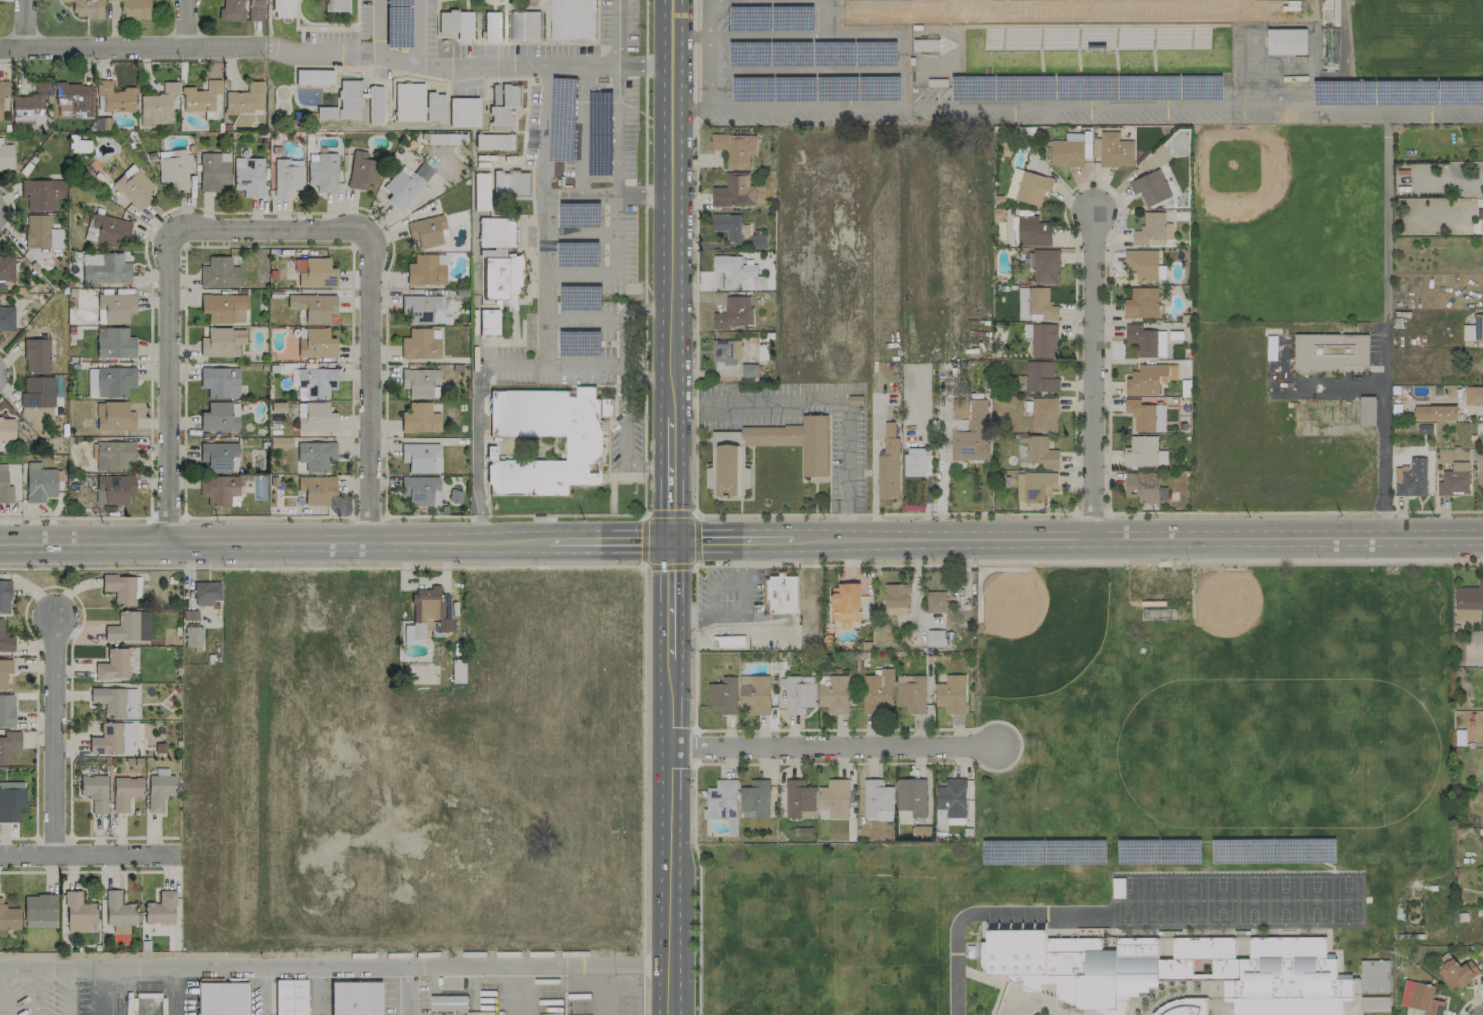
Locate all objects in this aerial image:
building: (334, 5)
building: (282, 7)
building: (86, 8)
building: (134, 8)
building: (231, 10)
building: (255, 10)
road: (296, 13)
building: (572, 19)
road: (325, 22)
parking lot: (397, 22)
road: (185, 23)
road: (354, 23)
parking lot: (616, 23)
road: (25, 24)
building: (524, 26)
building: (492, 27)
road: (321, 28)
building: (1090, 29)
road: (823, 33)
road: (300, 34)
road: (615, 34)
road: (766, 35)
parking lot: (327, 36)
road: (684, 36)
road: (702, 36)
road: (891, 40)
building: (1286, 42)
park: (1417, 43)
building: (931, 46)
road: (131, 47)
road: (355, 47)
road: (320, 53)
road: (709, 54)
road: (496, 59)
road: (656, 67)
road: (593, 69)
road: (860, 69)
road: (766, 70)
building: (312, 75)
park: (282, 92)
building: (3, 96)
building: (200, 96)
building: (115, 97)
building: (347, 97)
building: (245, 98)
building: (73, 99)
building: (407, 100)
building: (502, 102)
building: (30, 104)
building: (373, 104)
building: (157, 105)
road: (1197, 105)
building: (434, 107)
road: (543, 107)
road: (810, 107)
road: (523, 108)
road: (690, 109)
building: (463, 112)
building: (325, 113)
parking lot: (599, 129)
road: (616, 134)
road: (581, 135)
building: (494, 142)
building: (82, 146)
building: (735, 149)
building: (1112, 150)
building: (1066, 153)
building: (6, 157)
road: (502, 163)
road: (526, 166)
building: (172, 167)
building: (363, 169)
building: (214, 171)
building: (322, 171)
building: (248, 176)
building: (287, 177)
building: (511, 183)
building: (1014, 183)
building: (405, 184)
building: (133, 186)
building: (1033, 188)
building: (1150, 188)
building: (481, 191)
building: (734, 191)
building: (41, 193)
road: (694, 194)
road: (657, 198)
road: (592, 199)
road: (673, 208)
road: (12, 212)
road: (325, 212)
road: (489, 213)
road: (531, 213)
building: (727, 226)
park: (1288, 226)
road: (268, 227)
building: (107, 230)
building: (1153, 230)
building: (426, 231)
building: (41, 232)
building: (496, 232)
building: (1032, 232)
road: (519, 245)
parking lot: (593, 248)
road: (644, 257)
building: (1142, 263)
building: (6, 267)
building: (1045, 267)
building: (104, 268)
building: (425, 270)
building: (218, 272)
building: (314, 272)
road: (530, 273)
building: (737, 274)
building: (502, 277)
building: (1142, 303)
building: (1035, 305)
building: (115, 306)
building: (313, 306)
building: (223, 308)
building: (422, 308)
building: (733, 313)
building: (6, 319)
parking lot: (584, 320)
building: (488, 321)
road: (1385, 324)
building: (1473, 330)
building: (1041, 340)
building: (1141, 340)
building: (114, 342)
building: (221, 342)
building: (316, 343)
building: (1159, 343)
building: (419, 344)
building: (725, 352)
building: (1328, 353)
building: (36, 355)
parking lot: (554, 365)
road: (585, 367)
road: (519, 368)
road: (11, 374)
road: (635, 374)
road: (660, 375)
building: (1040, 377)
road: (1092, 378)
building: (1145, 380)
building: (109, 381)
building: (219, 381)
building: (315, 382)
building: (419, 382)
road: (372, 383)
road: (165, 385)
building: (37, 392)
building: (1473, 395)
road: (823, 404)
building: (1367, 411)
building: (1442, 413)
building: (1044, 415)
building: (114, 416)
building: (1145, 416)
road: (1477, 416)
building: (217, 417)
building: (314, 417)
building: (420, 419)
road: (623, 419)
building: (6, 429)
parking lot: (624, 433)
road: (475, 434)
building: (972, 434)
building: (796, 441)
building: (583, 447)
road: (693, 452)
building: (1040, 452)
building: (1144, 453)
building: (114, 455)
building: (315, 455)
building: (219, 456)
building: (420, 456)
building: (914, 462)
road: (632, 465)
road: (656, 465)
building: (888, 465)
building: (1479, 467)
building: (724, 471)
road: (483, 473)
building: (1411, 478)
road: (673, 479)
road: (628, 480)
building: (1454, 480)
building: (39, 482)
building: (4, 486)
building: (1034, 487)
building: (1144, 488)
building: (113, 489)
building: (218, 489)
building: (316, 489)
building: (420, 490)
road: (611, 493)
road: (1294, 511)
road: (1090, 512)
road: (883, 514)
road: (480, 524)
road: (1136, 537)
road: (731, 540)
road: (273, 541)
road: (610, 541)
road: (962, 564)
road: (544, 567)
road: (642, 567)
building: (120, 588)
road: (714, 588)
building: (205, 592)
building: (781, 593)
building: (4, 596)
building: (896, 599)
building: (935, 601)
road: (694, 602)
road: (673, 603)
building: (845, 603)
building: (1468, 603)
road: (80, 604)
road: (742, 611)
building: (424, 614)
park: (1245, 620)
building: (128, 627)
park: (1036, 628)
building: (192, 636)
building: (935, 638)
building: (5, 639)
building: (728, 641)
building: (113, 664)
building: (4, 671)
building: (457, 671)
building: (878, 692)
building: (911, 693)
building: (755, 694)
building: (799, 694)
building: (833, 694)
building: (951, 694)
building: (723, 696)
building: (109, 700)
building: (6, 710)
road: (54, 733)
building: (112, 739)
building: (8, 745)
road: (694, 748)
road: (827, 751)
park: (1232, 751)
building: (94, 791)
building: (158, 791)
building: (125, 792)
building: (911, 796)
building: (876, 798)
building: (952, 798)
building: (799, 799)
building: (755, 800)
building: (833, 800)
building: (11, 803)
building: (950, 822)
road: (670, 839)
road: (87, 856)
road: (697, 862)
road: (89, 871)
building: (1117, 880)
building: (1117, 885)
building: (1117, 890)
building: (1118, 895)
park: (1282, 899)
park: (1157, 900)
park: (1188, 900)
park: (1220, 900)
park: (1251, 900)
park: (1315, 900)
park: (1346, 900)
park: (1127, 901)
building: (160, 909)
building: (39, 911)
building: (118, 912)
building: (77, 913)
road: (983, 914)
building: (8, 918)
park: (828, 927)
road: (334, 966)
building: (1171, 970)
building: (1456, 973)
building: (1373, 975)
road: (2, 991)
road: (35, 991)
road: (68, 991)
road: (99, 991)
road: (174, 991)
road: (263, 991)
parking lot: (584, 994)
parking lot: (36, 996)
building: (290, 996)
building: (222, 998)
building: (355, 998)
building: (1424, 999)
road: (1467, 1002)
building: (447, 1003)
building: (1374, 1004)
building: (1183, 1007)

